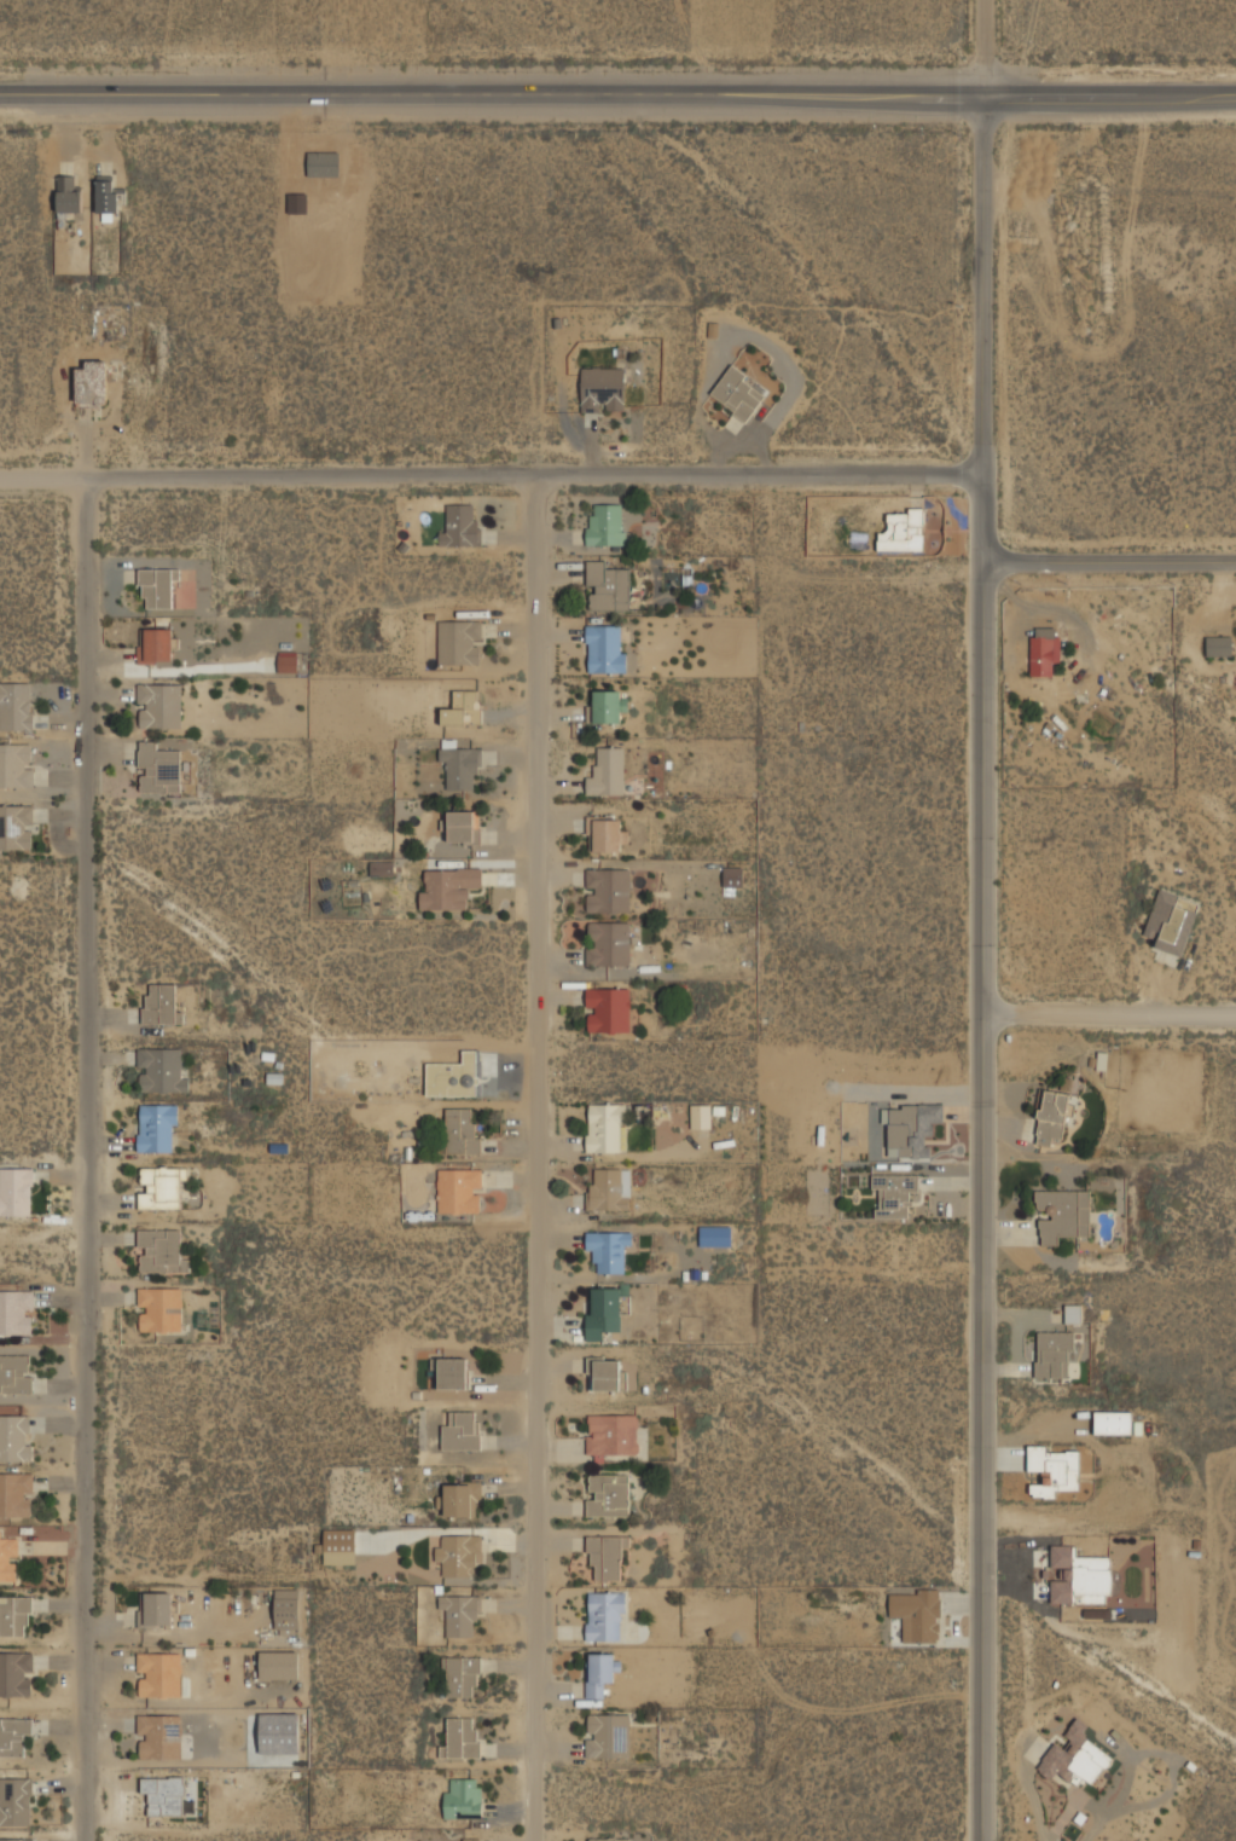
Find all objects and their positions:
road: (982, 47)
road: (617, 94)
building: (106, 192)
building: (70, 195)
building: (713, 329)
building: (92, 381)
building: (603, 388)
building: (738, 393)
road: (491, 474)
building: (460, 525)
building: (607, 525)
building: (903, 529)
road: (1109, 562)
building: (608, 585)
building: (157, 589)
building: (460, 642)
building: (158, 644)
building: (1219, 644)
building: (605, 648)
building: (1044, 649)
building: (288, 662)
building: (17, 705)
building: (159, 705)
building: (609, 705)
building: (464, 707)
building: (16, 764)
building: (459, 766)
building: (158, 768)
building: (608, 771)
building: (17, 826)
building: (464, 826)
building: (607, 835)
building: (382, 868)
building: (733, 876)
building: (447, 887)
building: (608, 890)
building: (1172, 920)
building: (608, 943)
road: (982, 968)
building: (161, 1005)
building: (609, 1011)
road: (1109, 1013)
building: (161, 1070)
building: (701, 1116)
building: (1052, 1116)
building: (157, 1127)
building: (605, 1128)
building: (912, 1128)
building: (465, 1133)
road: (534, 1157)
road: (85, 1159)
building: (159, 1187)
building: (607, 1189)
building: (17, 1191)
building: (459, 1191)
building: (895, 1193)
building: (1063, 1214)
building: (714, 1235)
building: (609, 1250)
building: (161, 1251)
building: (161, 1309)
building: (605, 1310)
building: (16, 1312)
building: (1073, 1312)
building: (1054, 1355)
building: (452, 1372)
building: (14, 1373)
building: (607, 1374)
building: (1113, 1422)
building: (463, 1431)
building: (611, 1434)
building: (16, 1437)
building: (1054, 1467)
building: (608, 1494)
building: (17, 1495)
building: (459, 1499)
building: (338, 1546)
building: (457, 1552)
building: (605, 1555)
building: (10, 1558)
building: (1079, 1575)
building: (156, 1608)
building: (286, 1610)
building: (459, 1613)
building: (917, 1613)
building: (16, 1615)
building: (605, 1615)
building: (279, 1665)
building: (16, 1673)
building: (158, 1673)
building: (598, 1674)
building: (462, 1675)
building: (278, 1732)
building: (14, 1735)
building: (607, 1735)
building: (158, 1736)
building: (462, 1737)
building: (1074, 1756)
building: (163, 1795)
building: (463, 1796)
building: (16, 1800)
building: (16, 1839)
building: (470, 1839)
building: (608, 1839)

